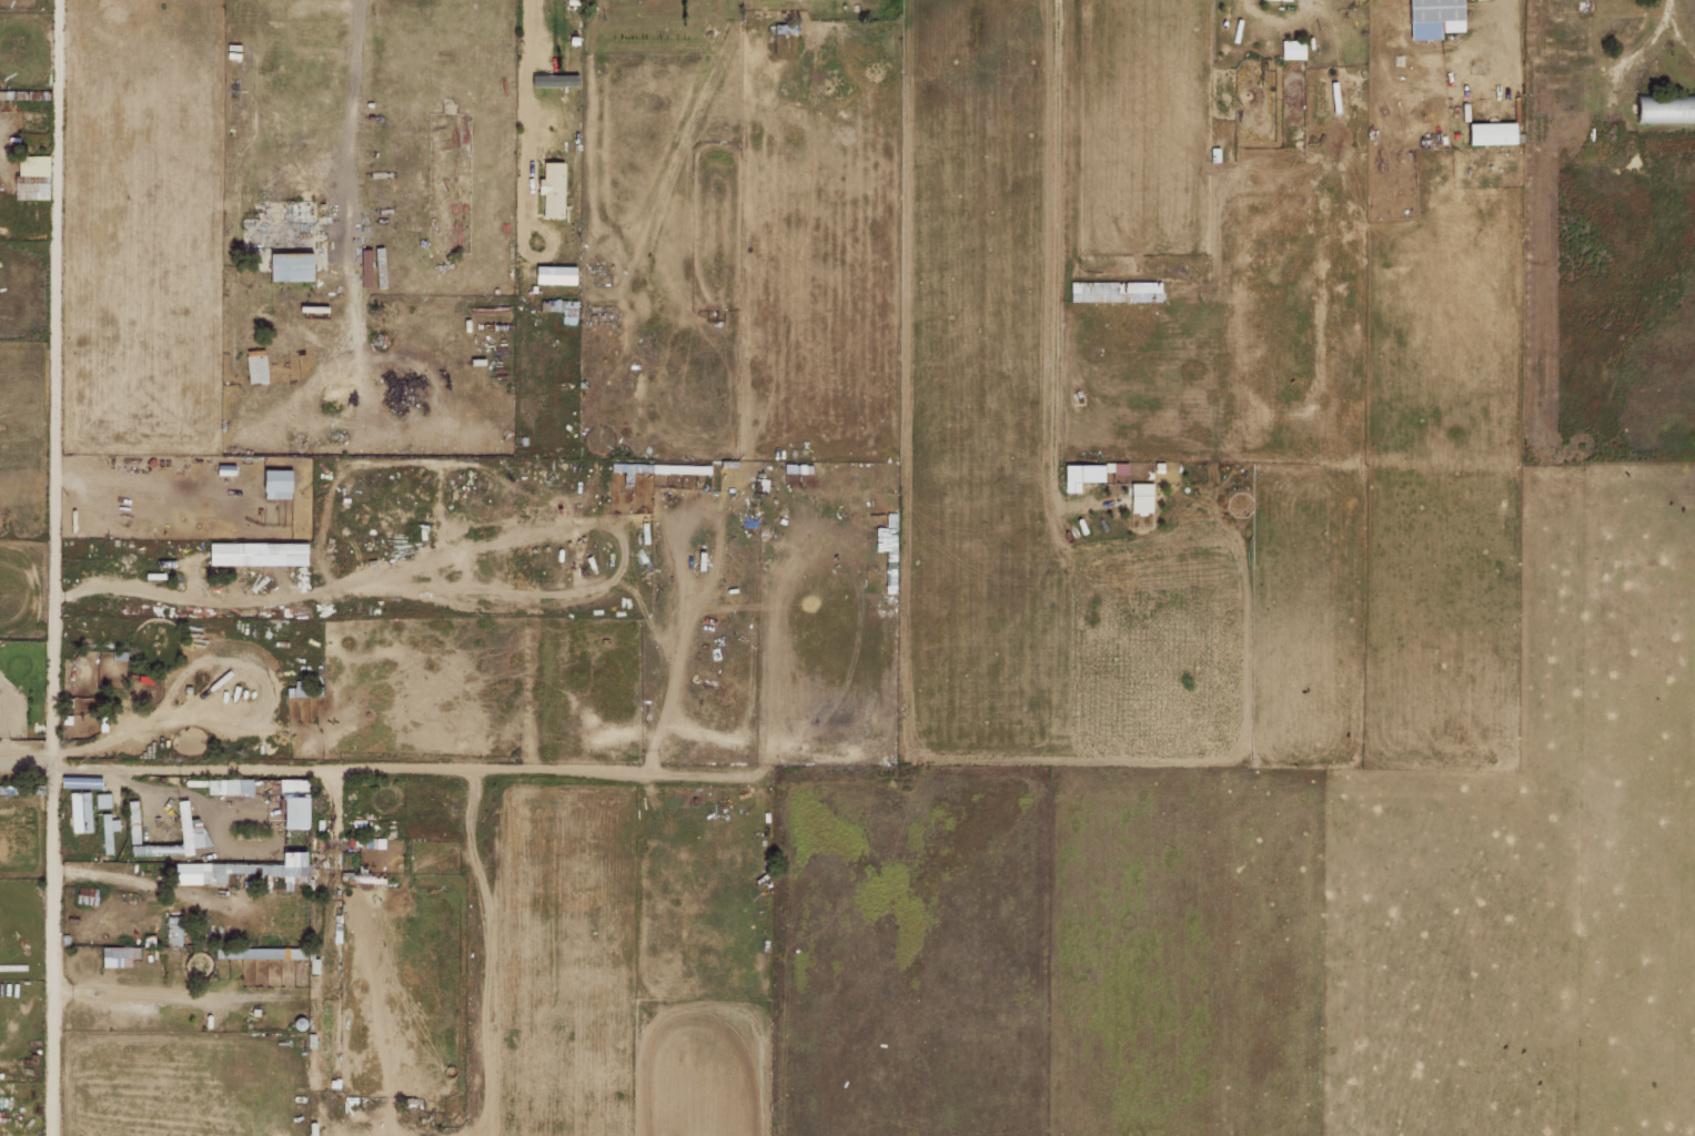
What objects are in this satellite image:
building: (1432, 18)
building: (1292, 49)
building: (554, 80)
building: (1490, 133)
building: (32, 165)
building: (551, 189)
building: (287, 266)
building: (554, 274)
building: (563, 310)
building: (255, 366)
building: (628, 467)
building: (1114, 467)
building: (224, 469)
building: (680, 469)
building: (1080, 476)
building: (274, 484)
building: (1140, 498)
building: (221, 554)
road: (53, 568)
road: (370, 771)
building: (229, 787)
building: (102, 800)
building: (80, 812)
building: (291, 812)
building: (189, 829)
building: (255, 868)
building: (115, 956)

